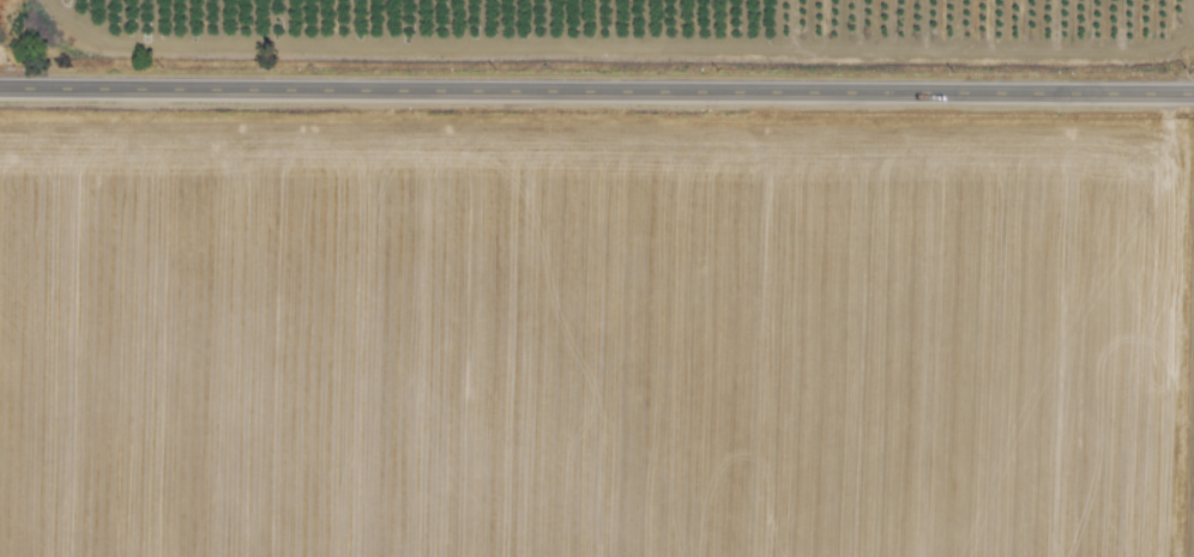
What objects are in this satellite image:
road: (597, 87)
road: (1182, 345)

